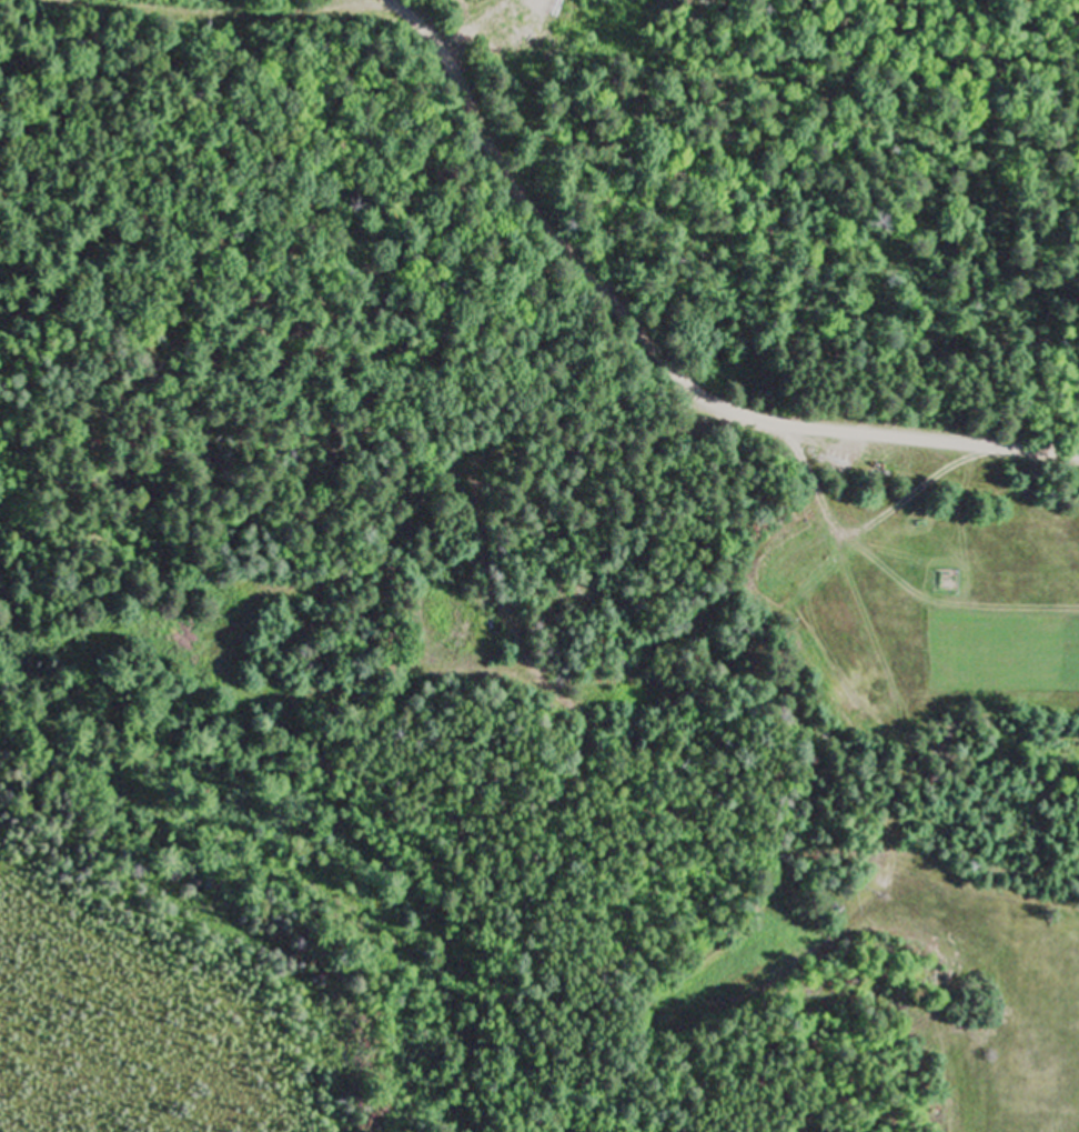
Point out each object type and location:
road: (651, 358)

